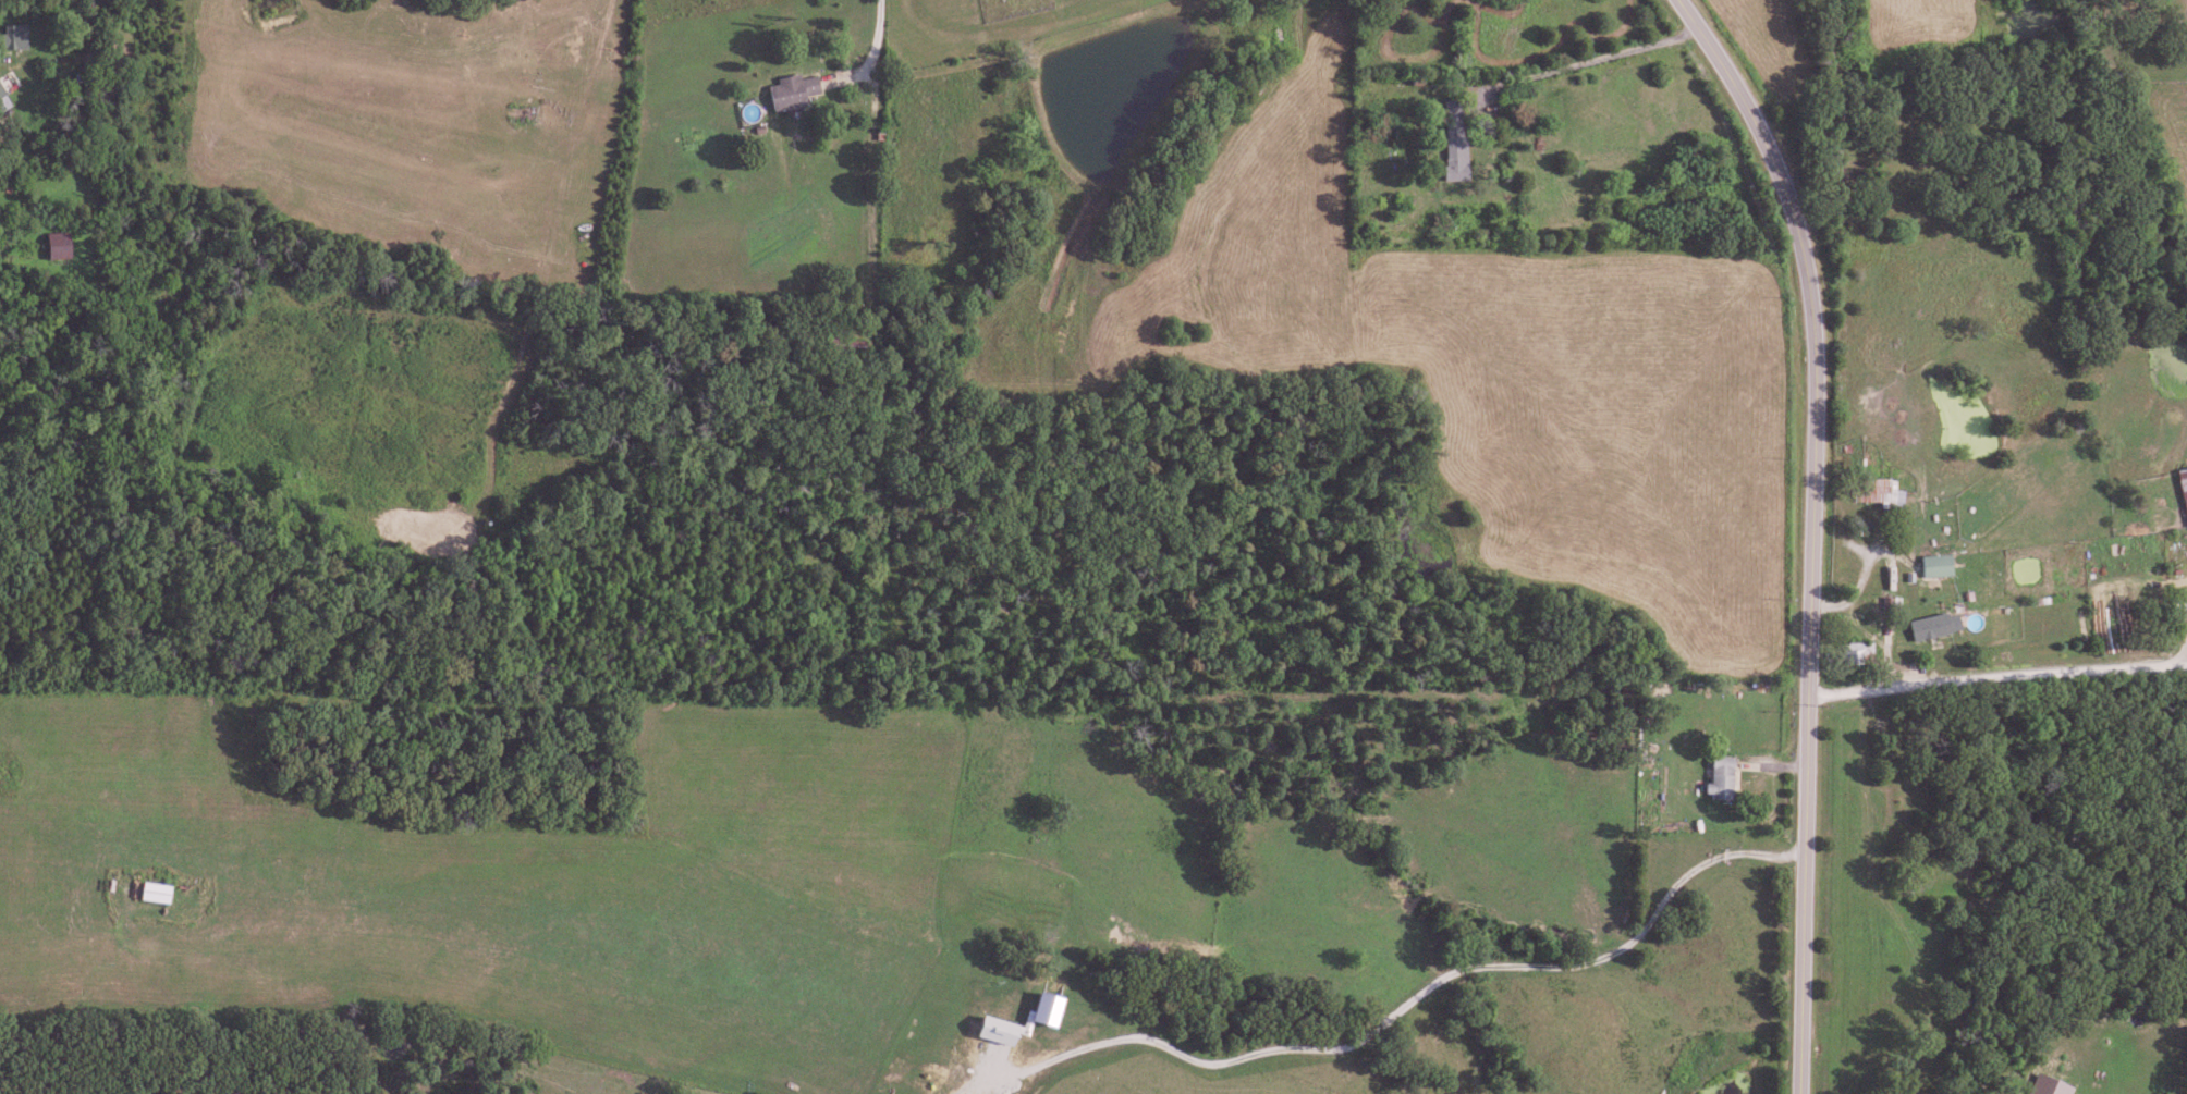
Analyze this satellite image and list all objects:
building: (8, 37)
road: (871, 52)
road: (1596, 59)
building: (785, 91)
building: (1, 105)
road: (1060, 356)
building: (2183, 490)
building: (1877, 492)
road: (1816, 531)
building: (1940, 628)
building: (1853, 653)
road: (1999, 678)
building: (1715, 777)
road: (1414, 997)

